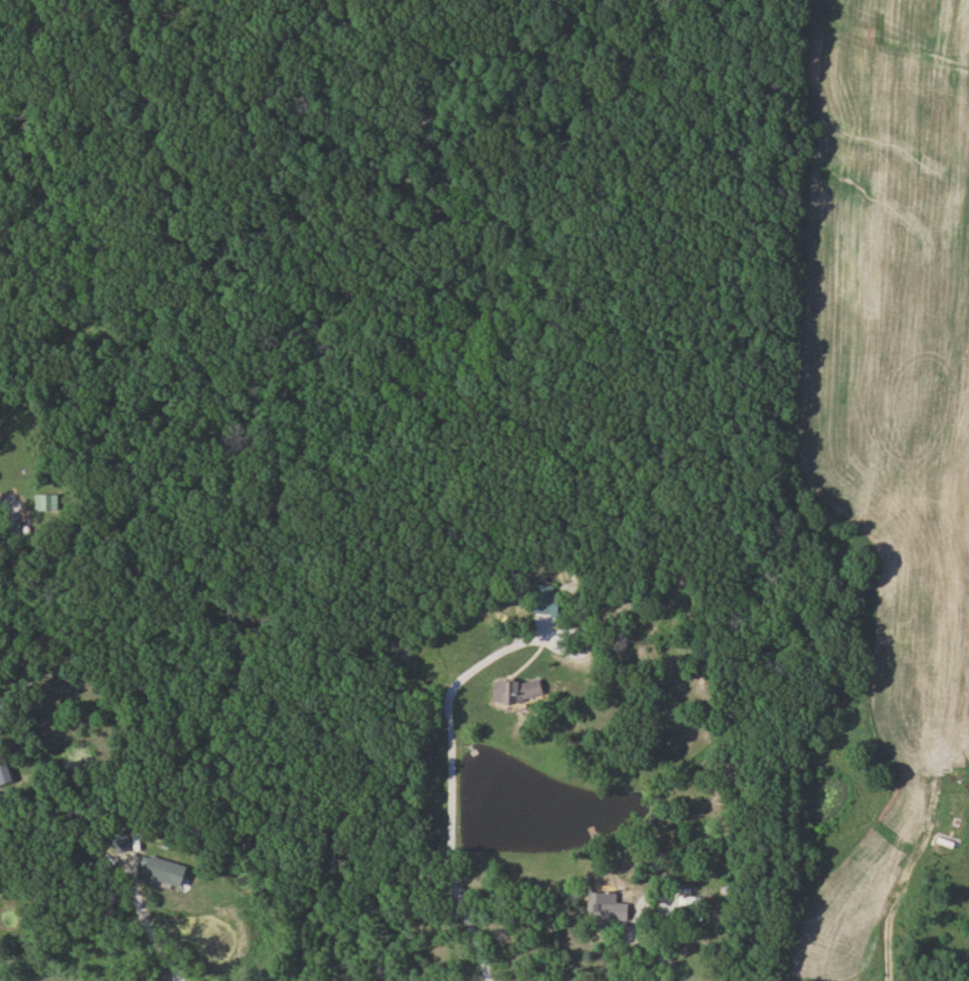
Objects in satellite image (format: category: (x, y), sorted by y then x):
building: (44, 502)
building: (546, 605)
building: (521, 690)
building: (7, 771)
road: (451, 783)
building: (166, 870)
building: (609, 906)
building: (691, 906)
road: (148, 923)

